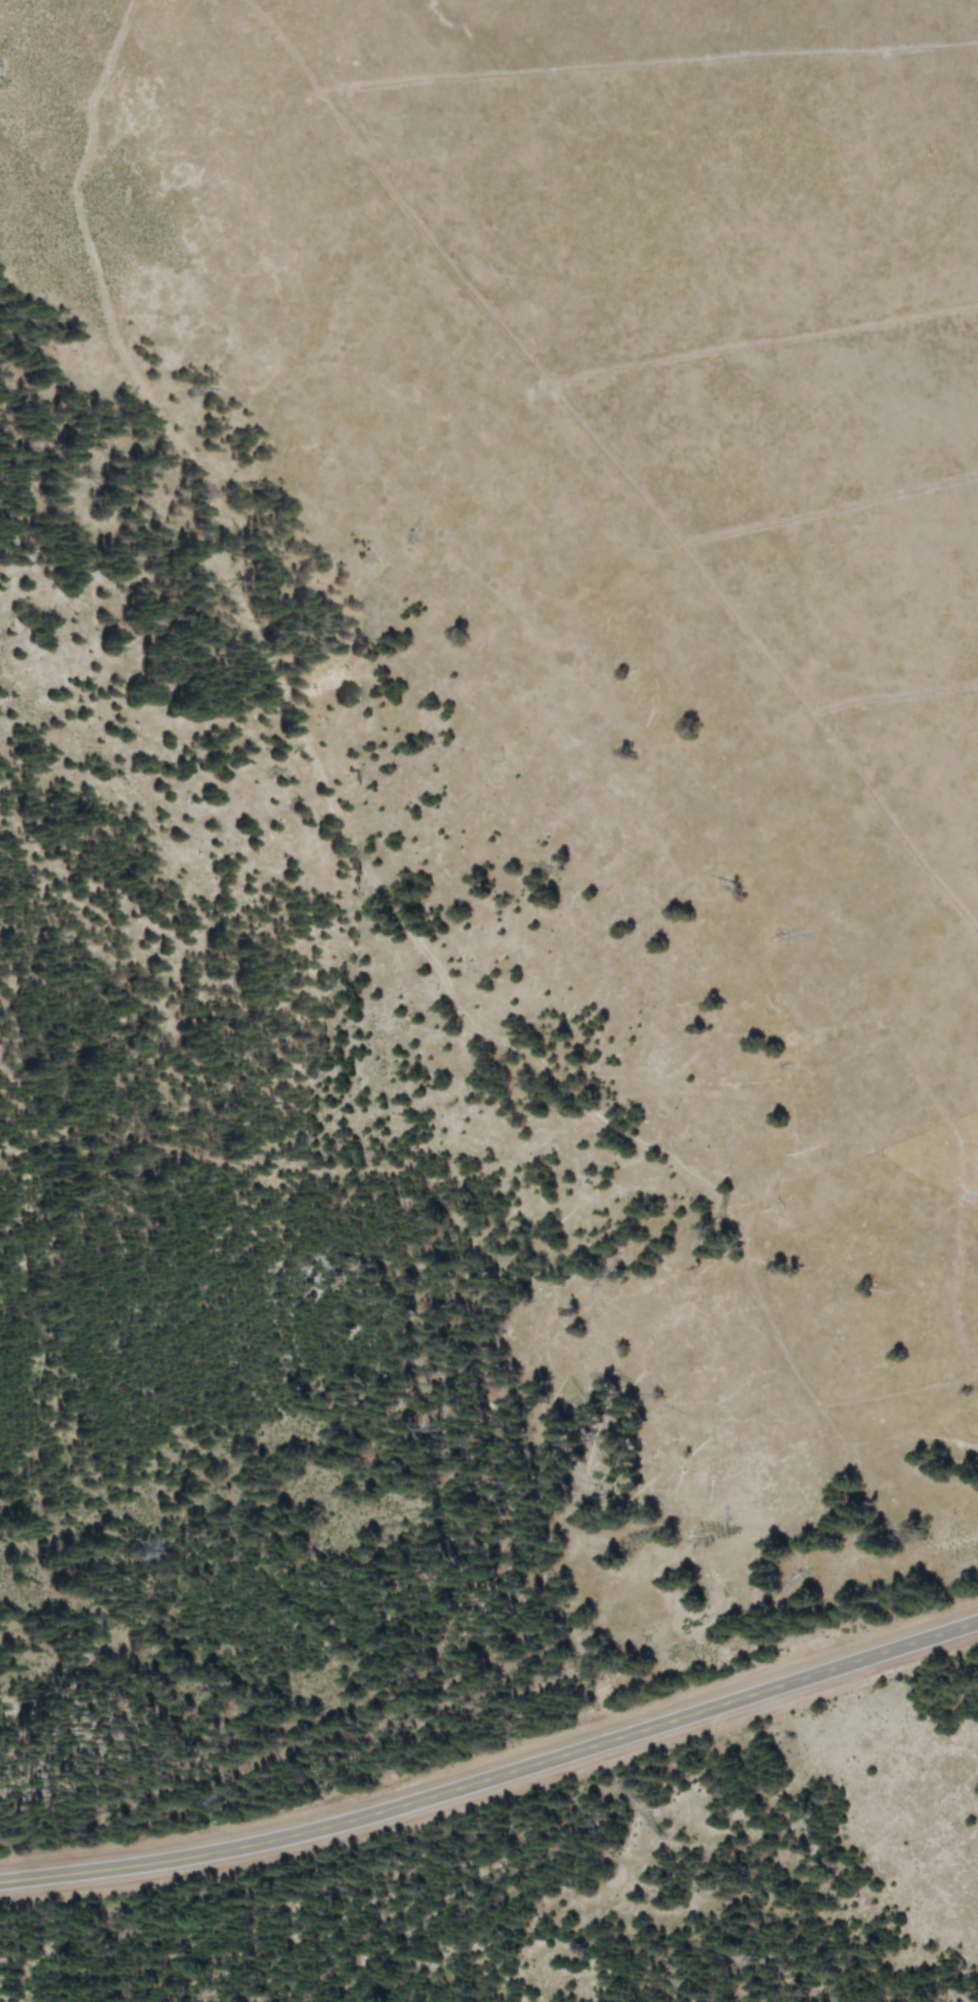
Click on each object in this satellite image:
road: (494, 1772)

